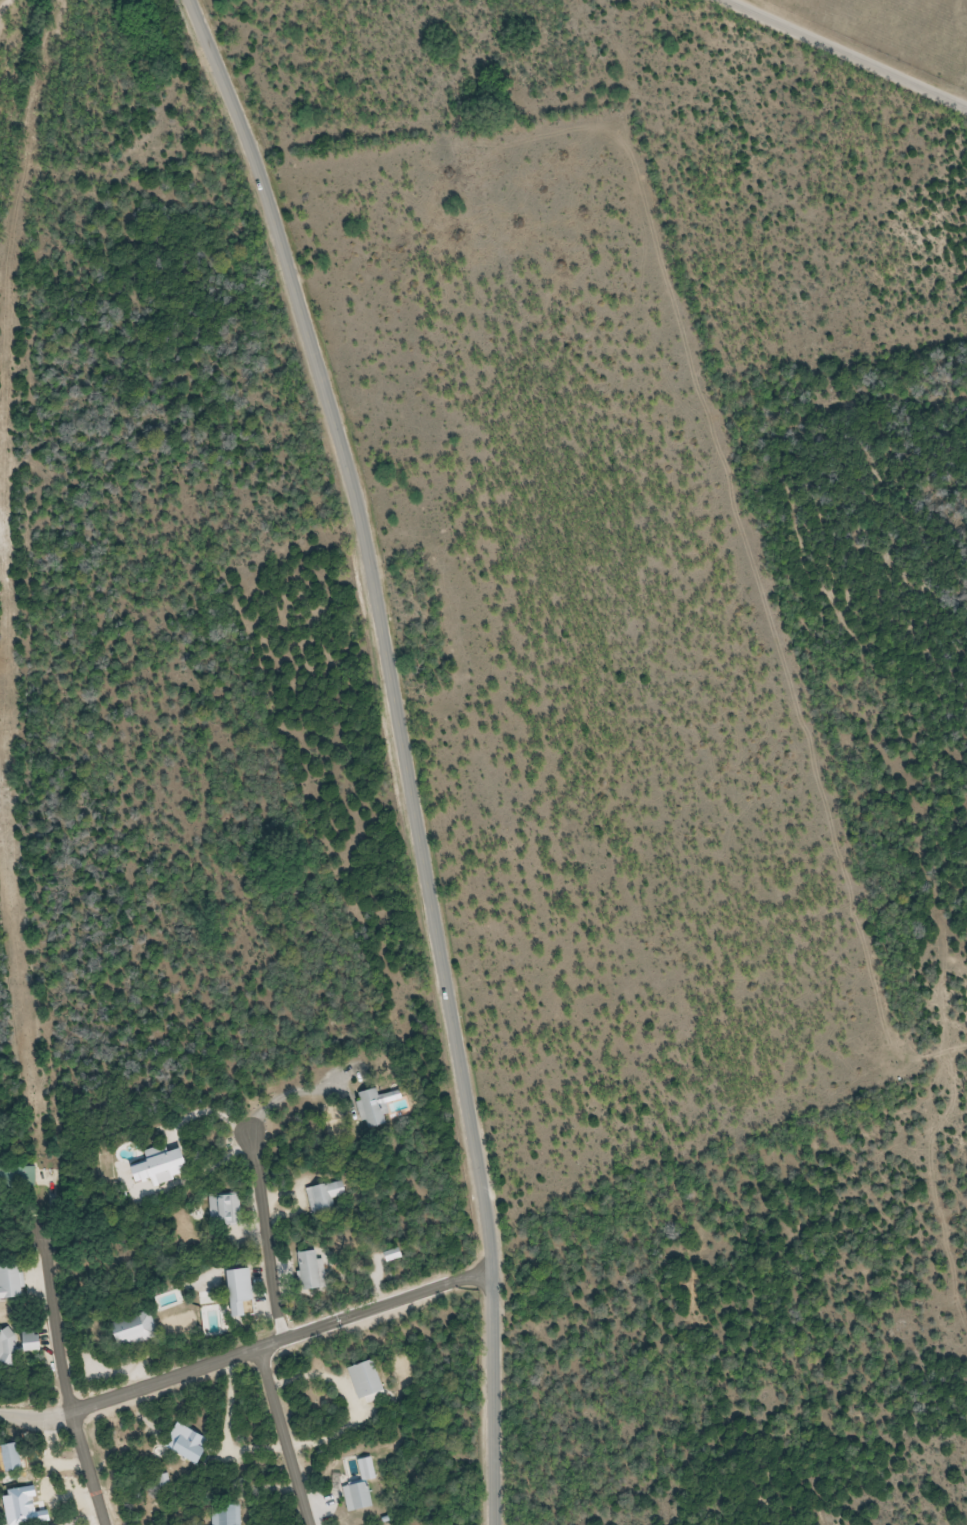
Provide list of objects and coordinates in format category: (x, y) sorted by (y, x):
road: (844, 54)
road: (413, 750)
building: (374, 1107)
building: (163, 1165)
building: (19, 1176)
building: (326, 1196)
road: (265, 1235)
building: (312, 1270)
building: (13, 1282)
building: (243, 1291)
road: (345, 1318)
building: (137, 1330)
building: (37, 1341)
road: (69, 1355)
building: (369, 1381)
road: (97, 1407)
road: (281, 1438)
building: (193, 1446)
building: (12, 1458)
building: (29, 1482)
building: (358, 1497)
building: (227, 1514)

